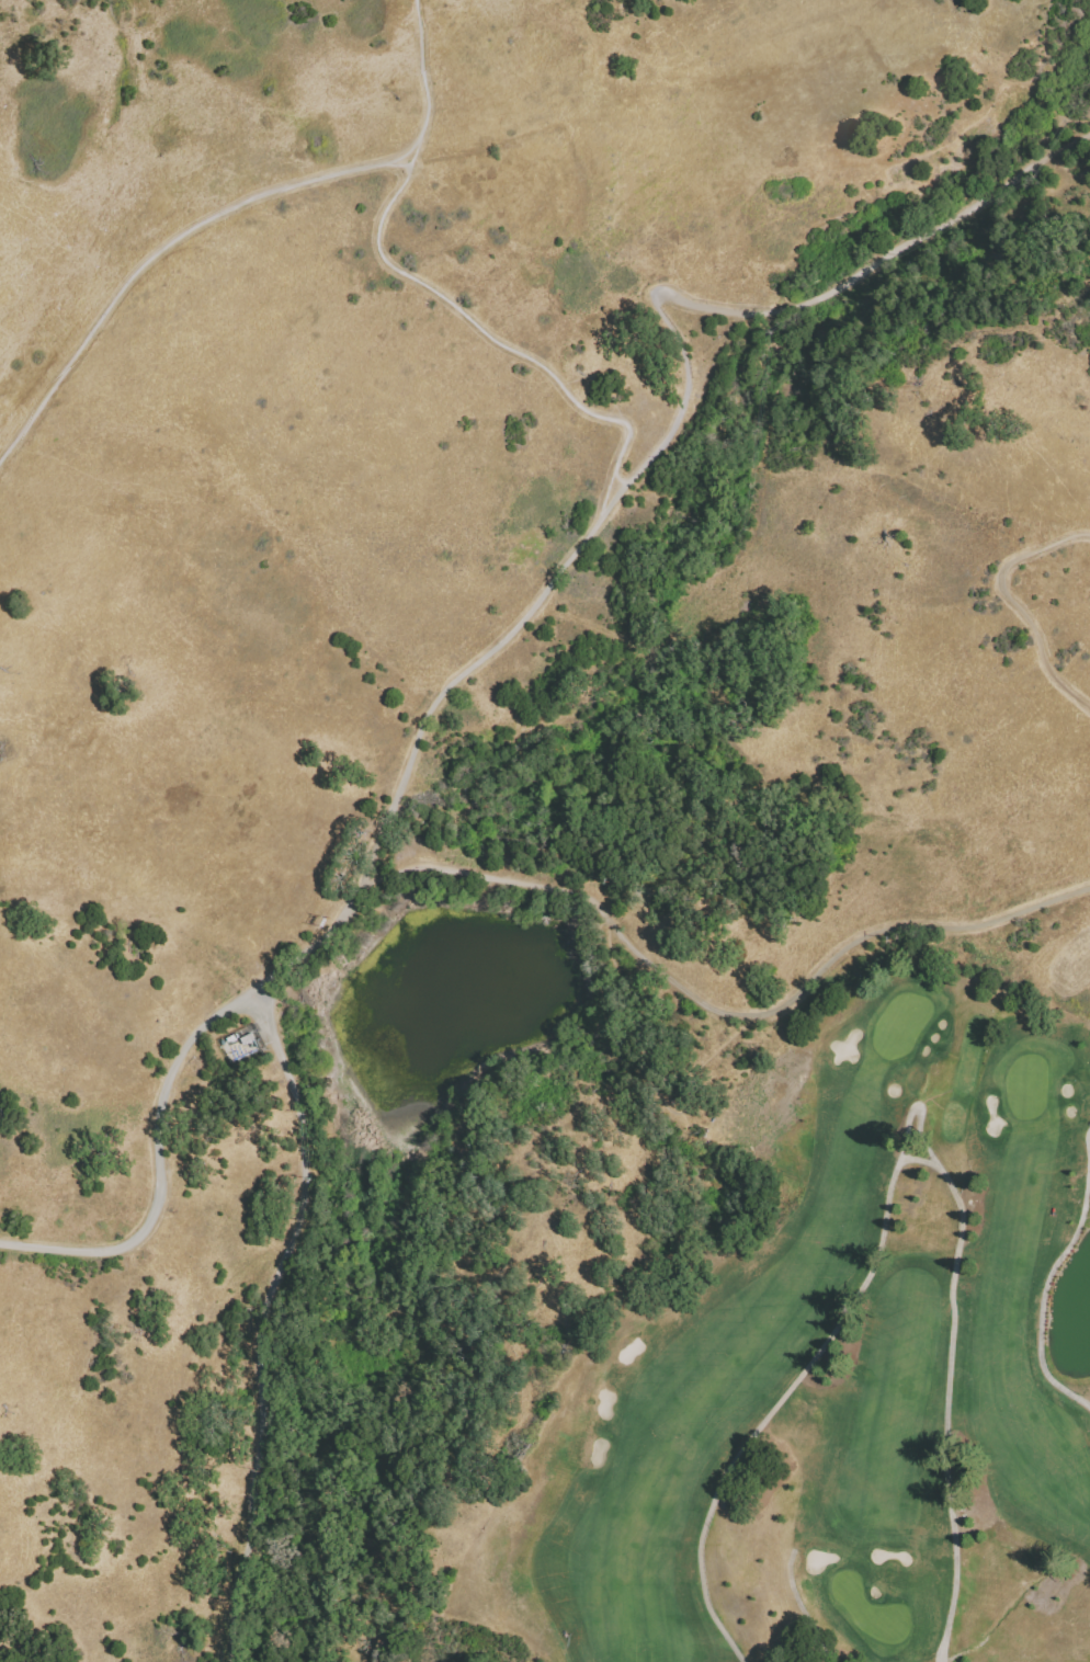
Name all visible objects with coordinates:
road: (421, 83)
road: (956, 225)
road: (157, 253)
road: (811, 301)
road: (510, 352)
road: (620, 480)
road: (553, 583)
road: (1010, 597)
road: (383, 878)
road: (366, 886)
road: (738, 1013)
road: (632, 1023)
building: (247, 1047)
road: (160, 1166)
road: (893, 1171)
road: (1042, 1295)
road: (263, 1317)
park: (836, 1368)

